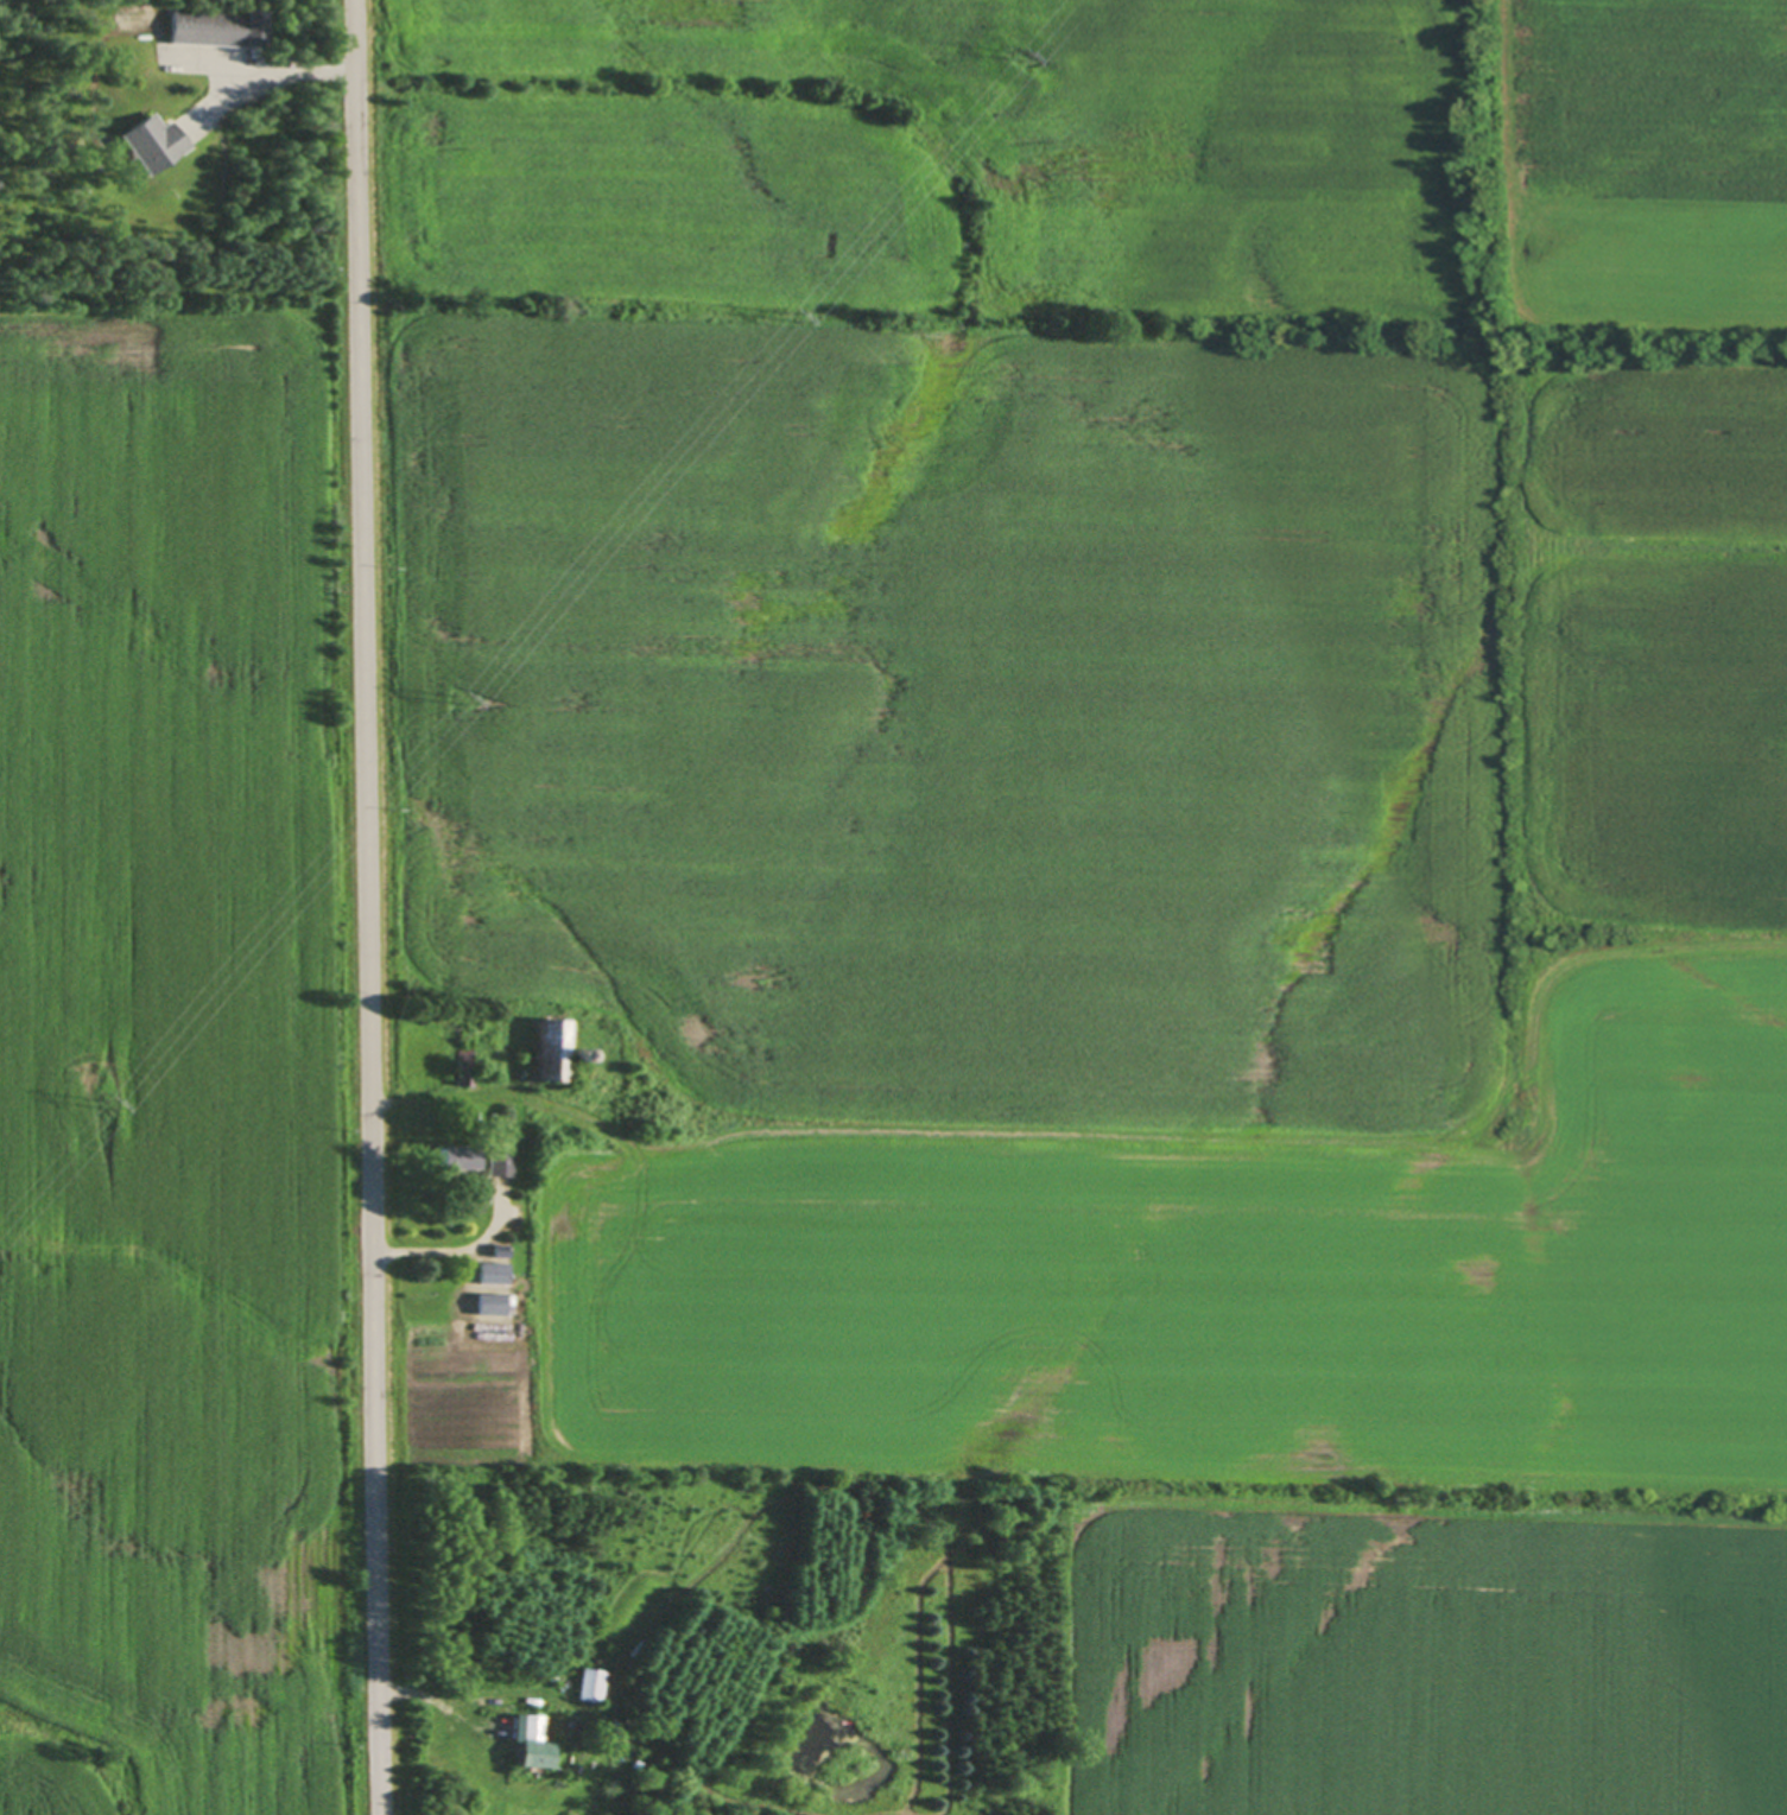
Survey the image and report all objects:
building: (218, 27)
power tower: (1019, 53)
building: (153, 141)
power tower: (797, 313)
power tower: (458, 700)
road: (362, 907)
building: (547, 1047)
building: (575, 1055)
building: (461, 1073)
power tower: (101, 1108)
building: (461, 1118)
building: (496, 1154)
building: (457, 1157)
building: (498, 1249)
building: (489, 1273)
building: (490, 1303)
building: (635, 1648)
building: (588, 1683)
building: (526, 1741)

